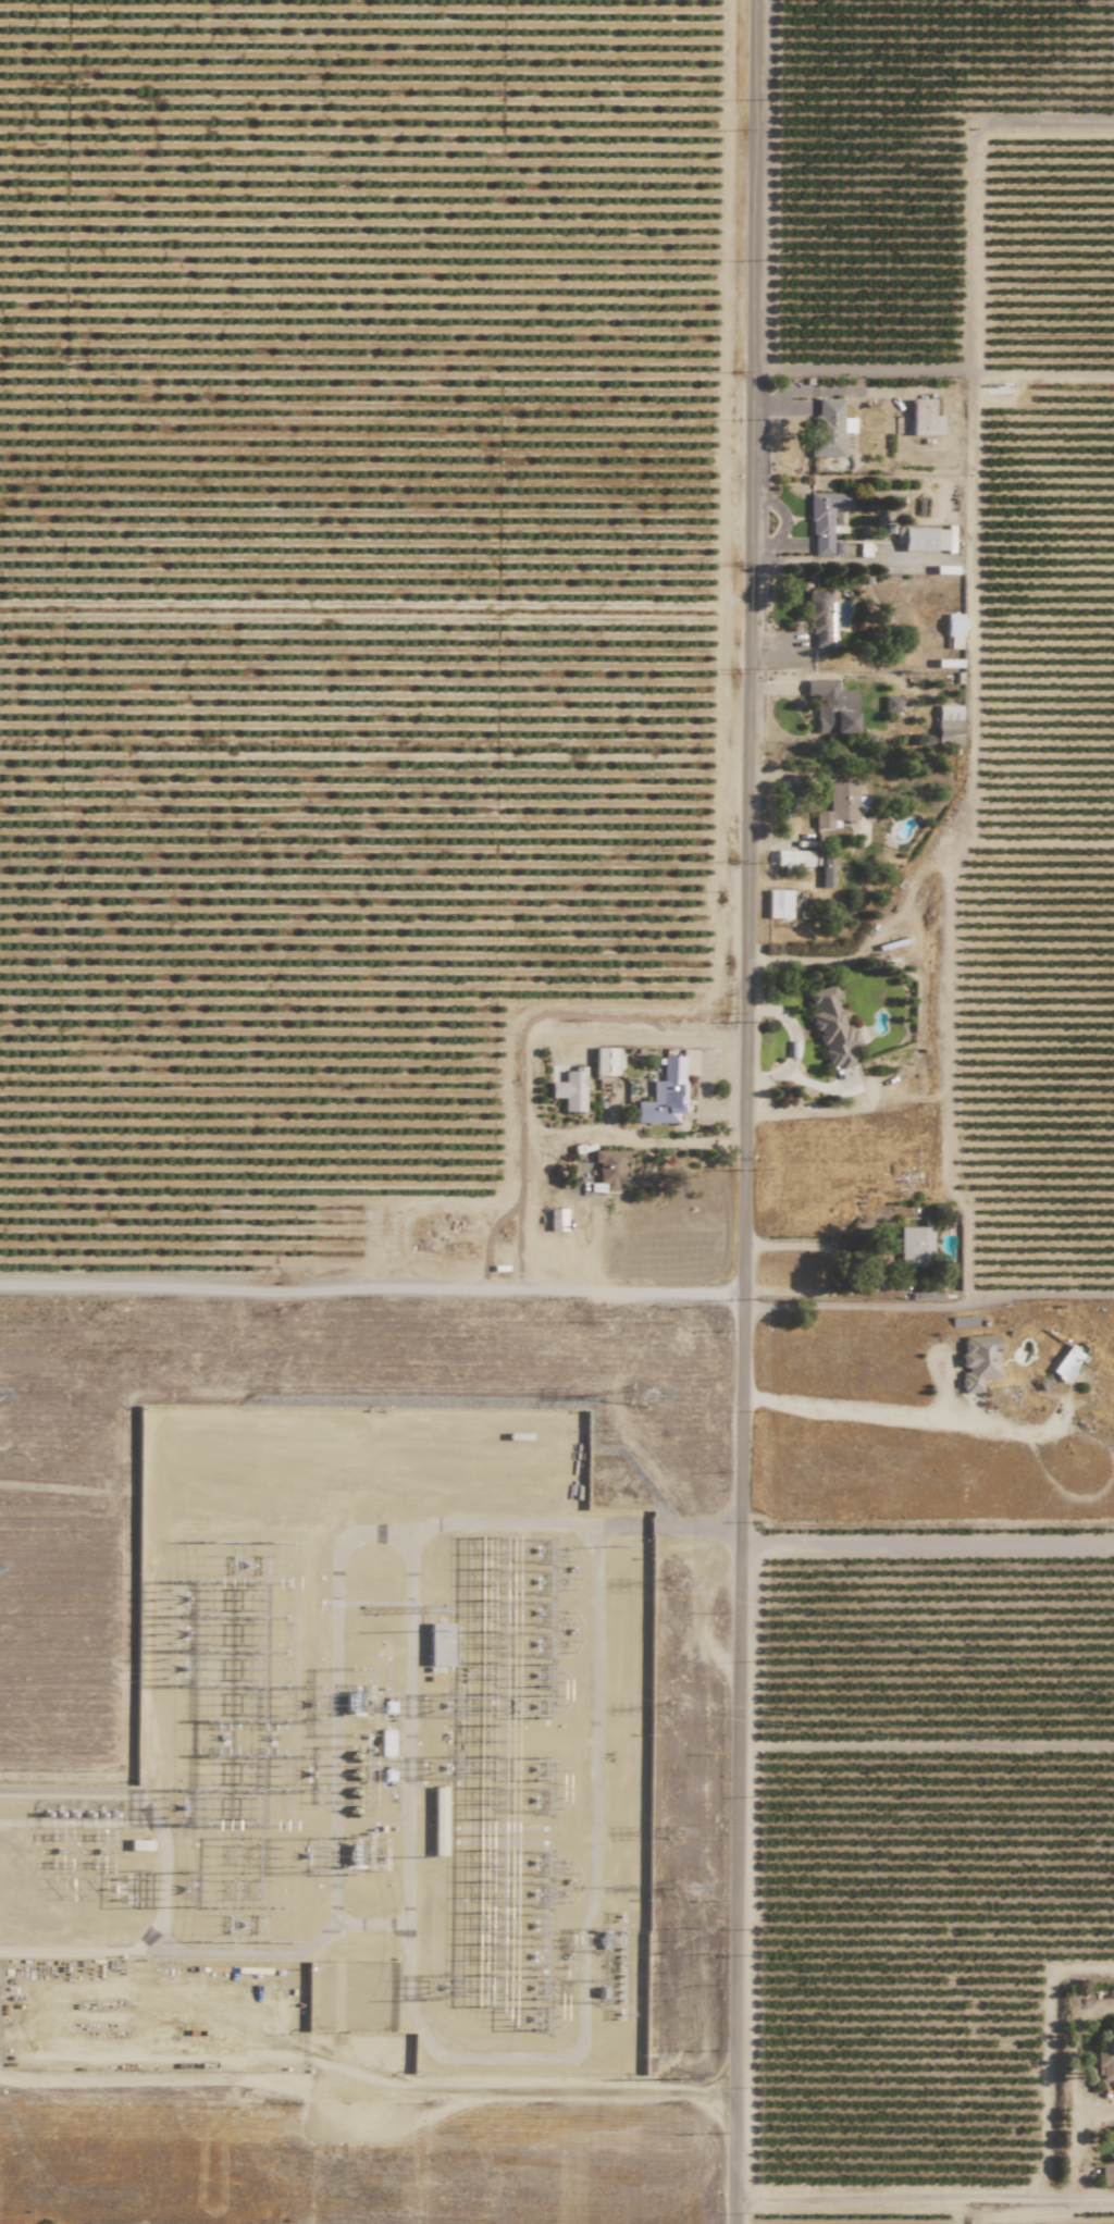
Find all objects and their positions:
road: (937, 372)
building: (923, 418)
building: (826, 429)
building: (825, 519)
building: (927, 539)
building: (820, 617)
building: (953, 630)
road: (971, 652)
building: (890, 703)
building: (831, 706)
building: (946, 725)
building: (840, 804)
building: (792, 857)
building: (826, 868)
building: (778, 903)
building: (831, 1027)
road: (652, 1037)
building: (604, 1061)
building: (569, 1089)
building: (664, 1094)
road: (759, 1112)
building: (608, 1169)
road: (561, 1198)
building: (556, 1220)
road: (814, 1243)
building: (914, 1246)
road: (933, 1305)
power tower: (596, 1323)
building: (978, 1361)
building: (1065, 1362)
power tower: (635, 1398)
road: (907, 1416)
power tower: (599, 1432)
road: (928, 1543)
power tower: (609, 1547)
power tower: (674, 1584)
building: (440, 1644)
power tower: (674, 1709)
power substation: (362, 1779)
building: (437, 1820)
power tower: (672, 1836)
power tower: (682, 1889)
building: (1104, 2056)
power tower: (676, 2081)
road: (1077, 2089)
building: (1106, 2174)
road: (905, 2198)
road: (1096, 2198)

